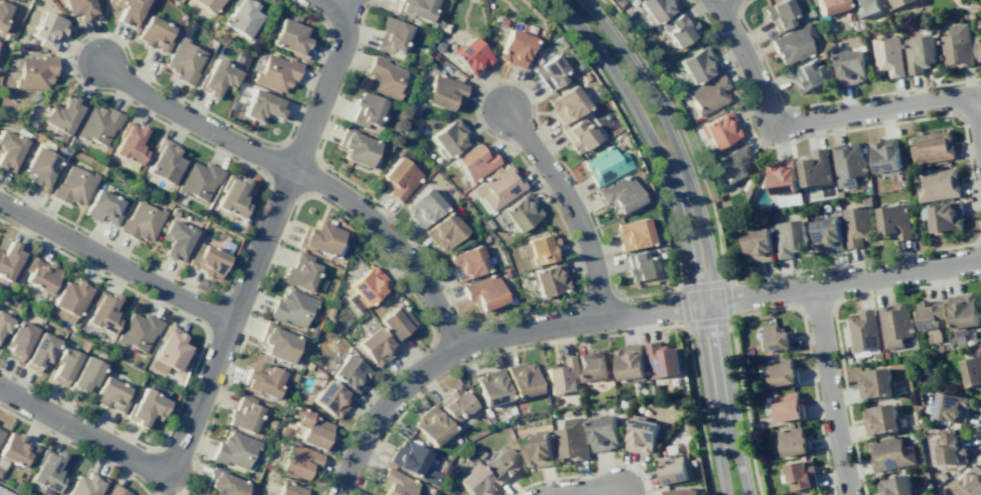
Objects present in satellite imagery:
road: (716, 1)
building: (631, 2)
road: (325, 3)
road: (333, 3)
building: (896, 3)
building: (206, 4)
road: (371, 4)
building: (829, 6)
building: (866, 7)
building: (415, 8)
building: (81, 9)
building: (656, 9)
building: (129, 11)
building: (3, 12)
building: (779, 14)
building: (241, 16)
building: (500, 22)
building: (678, 29)
building: (47, 30)
building: (154, 34)
building: (390, 35)
building: (251, 36)
building: (289, 37)
building: (860, 38)
road: (118, 39)
building: (793, 44)
building: (978, 45)
building: (437, 46)
building: (957, 46)
building: (514, 47)
building: (920, 53)
building: (819, 54)
building: (888, 55)
building: (470, 56)
road: (70, 61)
building: (184, 61)
building: (697, 65)
building: (850, 66)
road: (734, 70)
building: (34, 72)
building: (276, 72)
building: (548, 72)
building: (808, 75)
building: (217, 78)
building: (383, 78)
road: (513, 80)
building: (443, 92)
building: (706, 95)
road: (823, 102)
building: (566, 103)
road: (980, 104)
building: (262, 105)
building: (365, 109)
building: (62, 116)
road: (811, 120)
road: (192, 121)
building: (98, 124)
road: (479, 126)
building: (718, 129)
road: (632, 130)
road: (682, 132)
building: (578, 135)
building: (448, 137)
building: (397, 140)
road: (280, 141)
building: (129, 144)
building: (355, 146)
building: (931, 147)
building: (9, 150)
building: (885, 155)
building: (164, 161)
building: (474, 161)
building: (732, 164)
building: (848, 164)
building: (604, 165)
building: (41, 168)
building: (815, 168)
building: (399, 178)
building: (197, 180)
building: (784, 182)
building: (937, 184)
building: (73, 186)
building: (497, 187)
building: (619, 194)
building: (232, 196)
road: (975, 204)
road: (570, 205)
building: (103, 207)
building: (422, 207)
road: (334, 209)
building: (518, 212)
building: (943, 216)
building: (141, 221)
building: (894, 221)
building: (857, 224)
building: (444, 230)
road: (598, 230)
road: (684, 231)
road: (703, 232)
building: (632, 233)
building: (826, 233)
building: (318, 238)
building: (789, 238)
road: (262, 239)
building: (175, 240)
road: (392, 241)
building: (758, 245)
building: (540, 248)
building: (10, 259)
building: (206, 261)
road: (114, 262)
building: (466, 262)
road: (235, 263)
building: (639, 266)
building: (299, 272)
building: (39, 274)
building: (548, 279)
road: (726, 281)
building: (367, 285)
road: (678, 286)
road: (681, 288)
road: (444, 289)
building: (484, 292)
building: (69, 299)
building: (290, 307)
building: (102, 312)
building: (328, 312)
building: (963, 312)
road: (622, 314)
building: (932, 318)
building: (396, 322)
building: (3, 323)
building: (894, 325)
road: (686, 326)
road: (835, 326)
building: (137, 331)
building: (310, 332)
building: (864, 333)
building: (777, 337)
building: (18, 340)
building: (277, 342)
building: (375, 346)
building: (168, 350)
building: (39, 352)
road: (488, 355)
building: (661, 359)
road: (195, 363)
building: (630, 363)
building: (63, 365)
building: (307, 366)
building: (591, 366)
road: (810, 367)
building: (782, 371)
building: (972, 371)
building: (348, 372)
building: (85, 374)
building: (290, 375)
building: (560, 376)
building: (262, 380)
building: (521, 381)
building: (874, 382)
building: (491, 388)
road: (828, 391)
building: (110, 394)
building: (330, 398)
building: (552, 400)
building: (623, 403)
building: (454, 404)
road: (745, 406)
building: (788, 406)
building: (145, 407)
building: (949, 407)
road: (697, 411)
building: (568, 412)
building: (243, 414)
building: (880, 419)
building: (271, 424)
building: (431, 426)
building: (310, 427)
building: (689, 428)
road: (84, 431)
building: (282, 431)
building: (0, 432)
building: (602, 432)
road: (978, 432)
building: (641, 434)
building: (664, 434)
building: (571, 440)
building: (793, 441)
road: (77, 449)
building: (233, 449)
building: (538, 449)
building: (948, 449)
building: (15, 451)
building: (478, 453)
building: (891, 454)
building: (407, 458)
building: (298, 461)
road: (615, 463)
building: (502, 465)
building: (675, 468)
building: (47, 470)
building: (801, 475)
building: (942, 475)
building: (428, 477)
road: (547, 478)
building: (222, 482)
building: (476, 482)
building: (970, 482)
building: (15, 483)
building: (396, 483)
road: (647, 484)
building: (86, 485)
building: (896, 486)
building: (289, 489)
building: (430, 490)
road: (584, 490)
building: (115, 491)
building: (681, 491)
building: (4, 492)
building: (815, 494)

